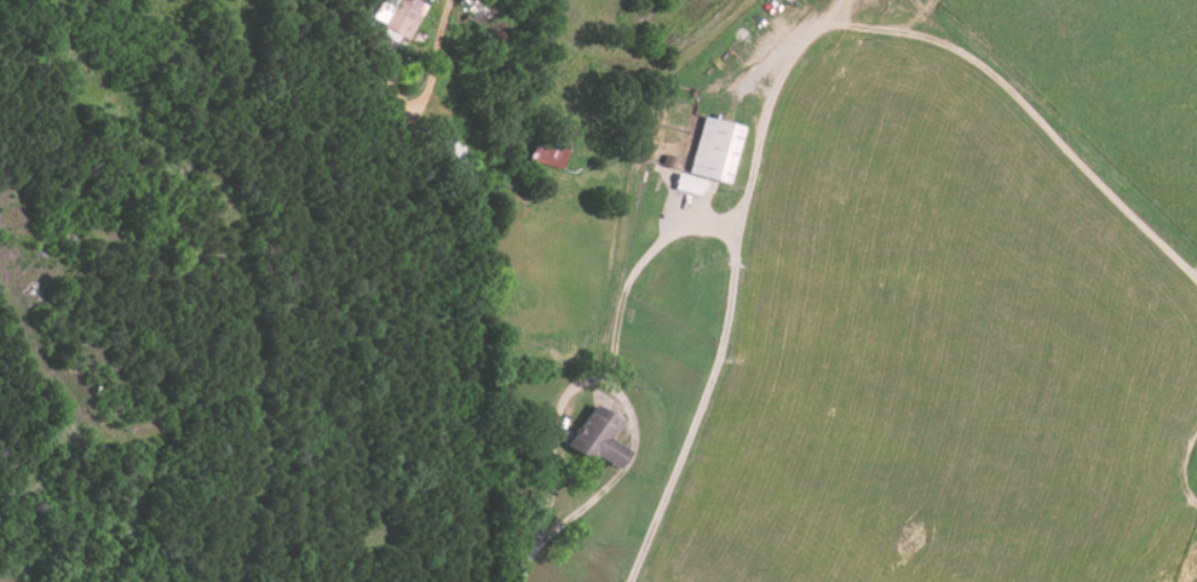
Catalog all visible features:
building: (396, 15)
building: (713, 149)
building: (547, 152)
building: (451, 154)
building: (687, 184)
road: (478, 385)
road: (702, 401)
building: (595, 438)
road: (549, 532)

